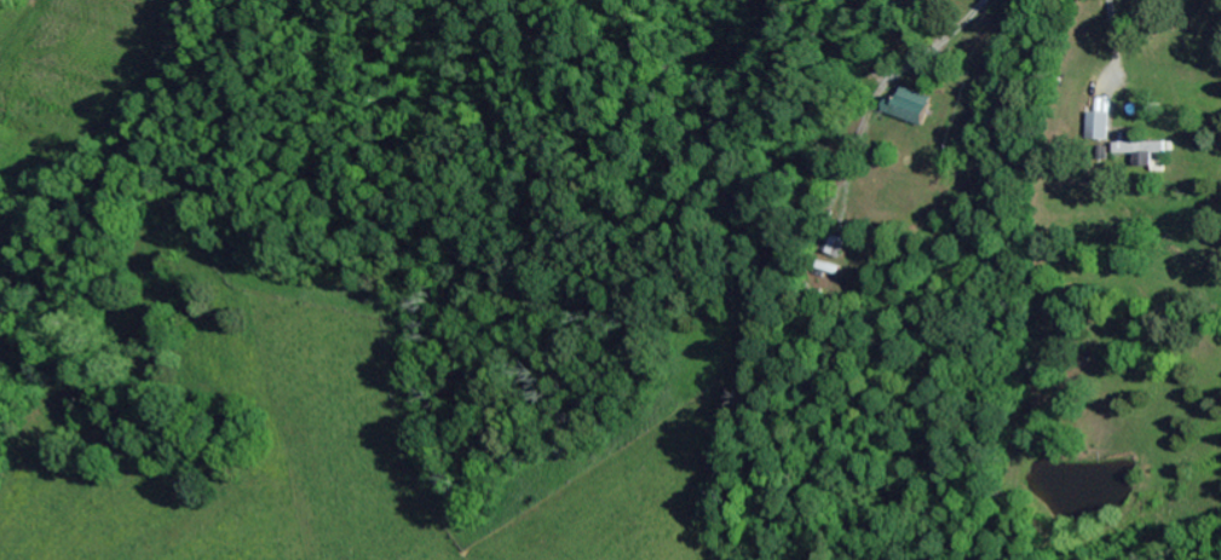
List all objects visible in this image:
building: (909, 108)
building: (1098, 127)
building: (1141, 152)
building: (839, 248)

